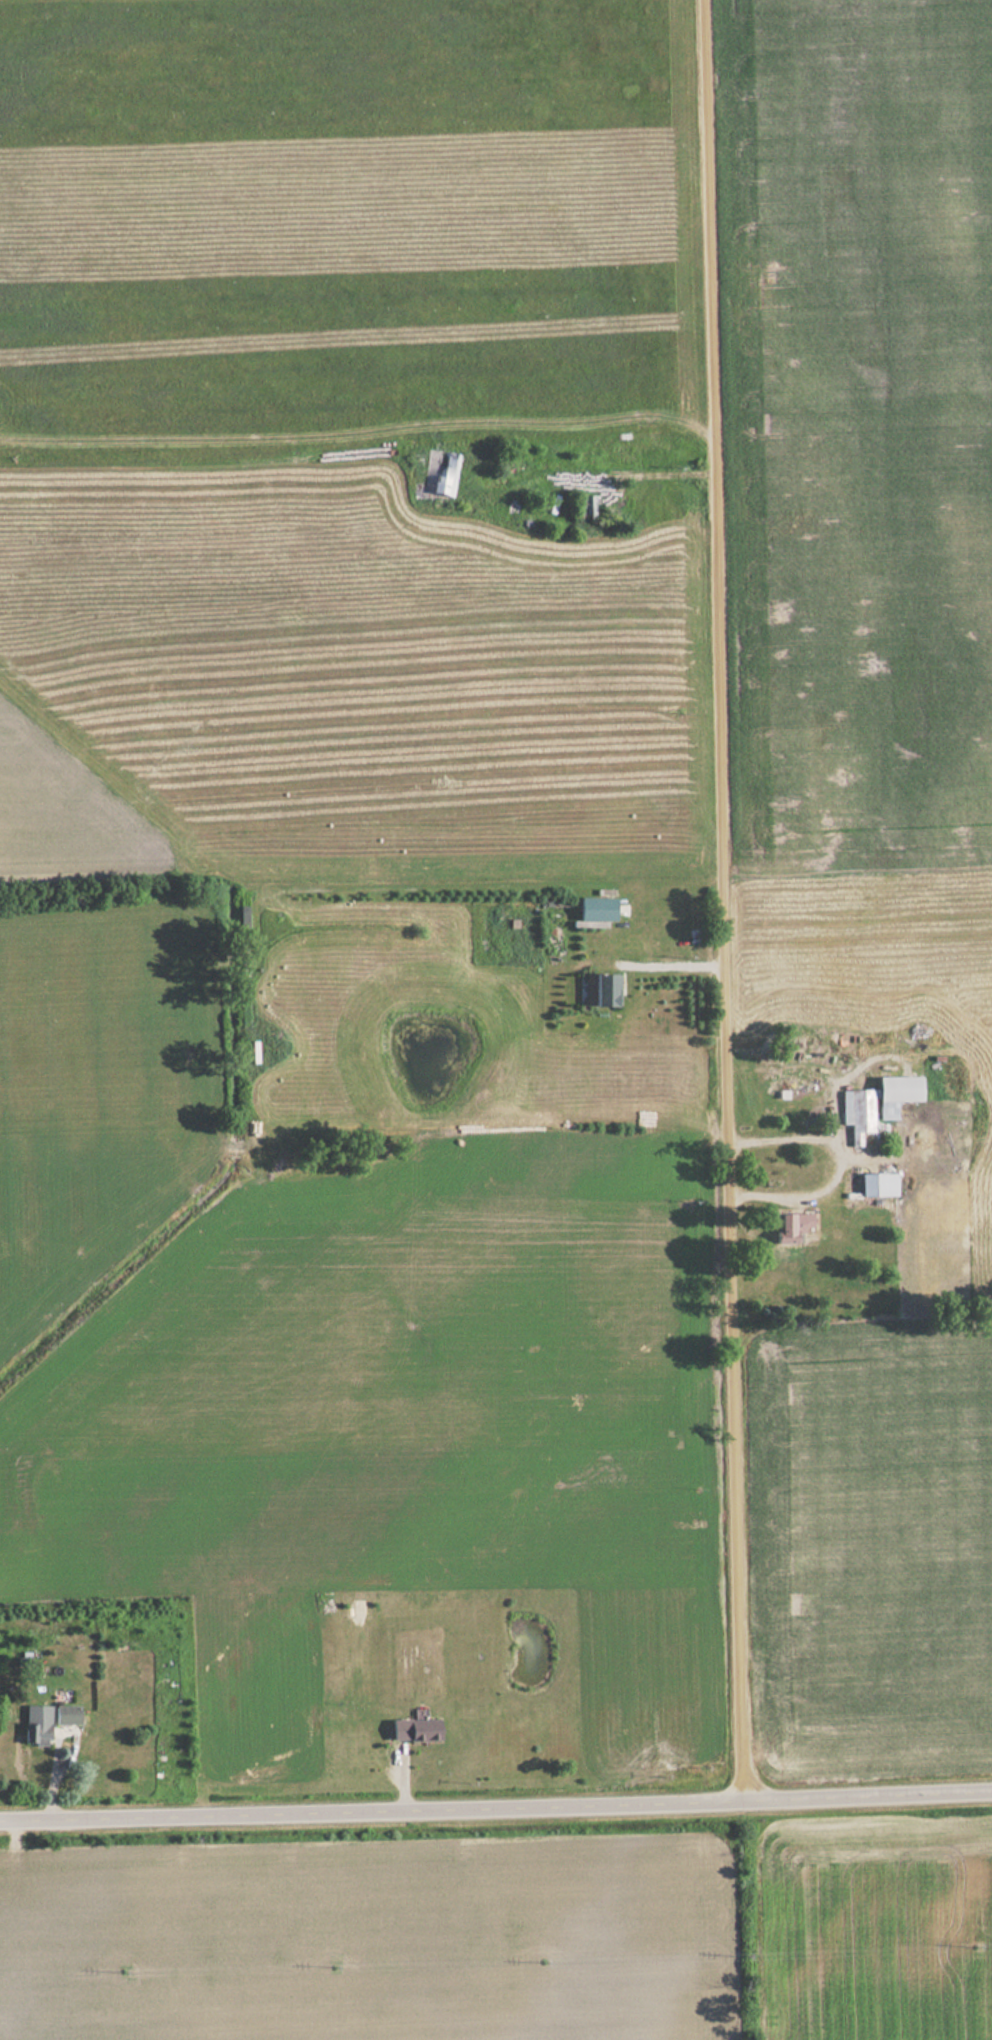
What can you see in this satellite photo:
building: (425, 476)
building: (585, 503)
road: (727, 904)
building: (595, 908)
building: (604, 988)
building: (875, 1103)
building: (877, 1184)
building: (789, 1226)
building: (66, 1714)
building: (36, 1725)
building: (413, 1729)
road: (496, 1815)

